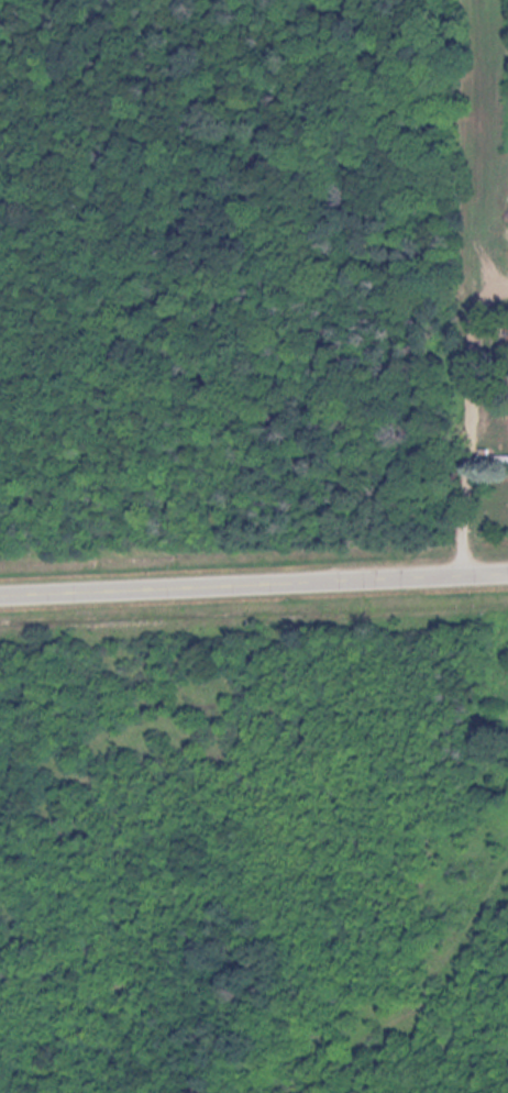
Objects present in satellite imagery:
road: (254, 576)

